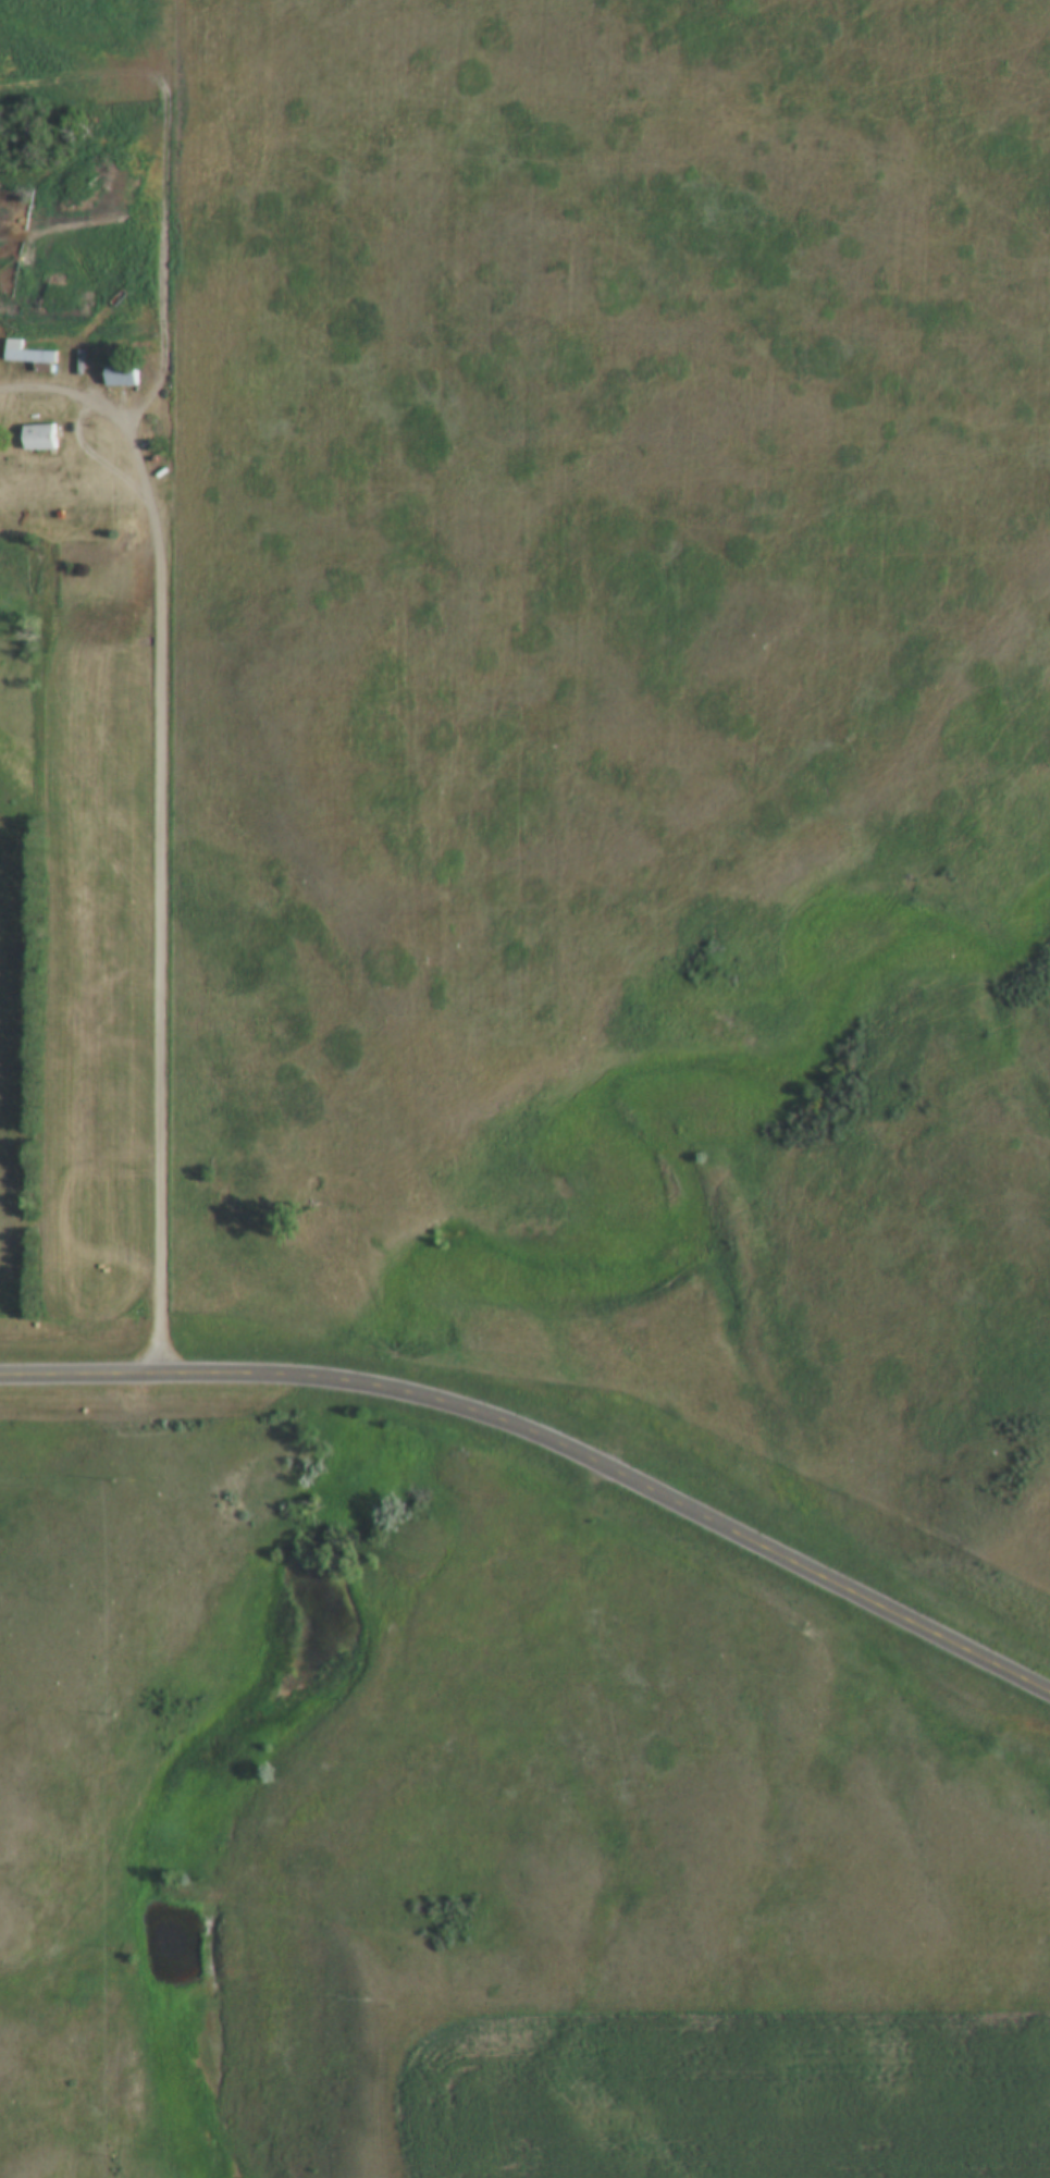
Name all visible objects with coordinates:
building: (29, 356)
building: (122, 374)
building: (39, 438)
road: (160, 826)
road: (552, 1432)

